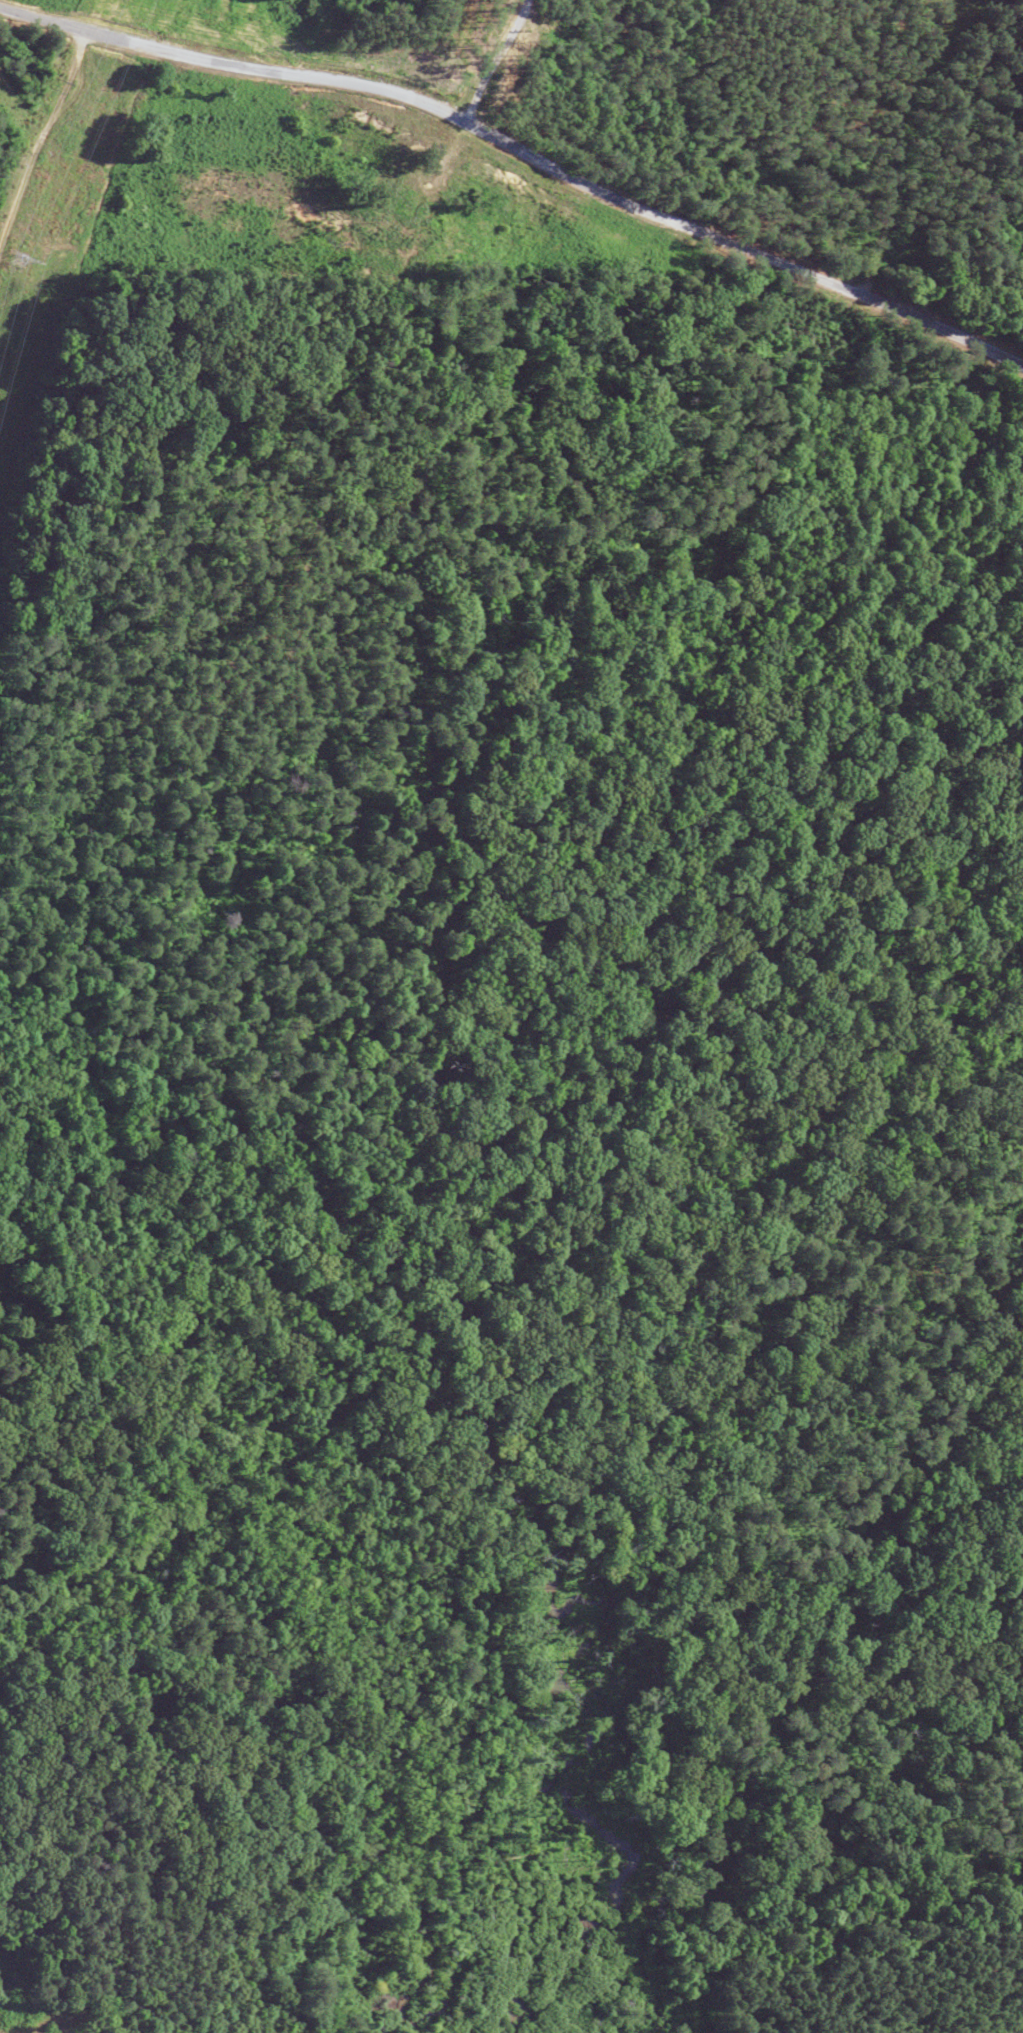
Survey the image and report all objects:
road: (489, 61)
road: (521, 151)
power tower: (18, 261)

